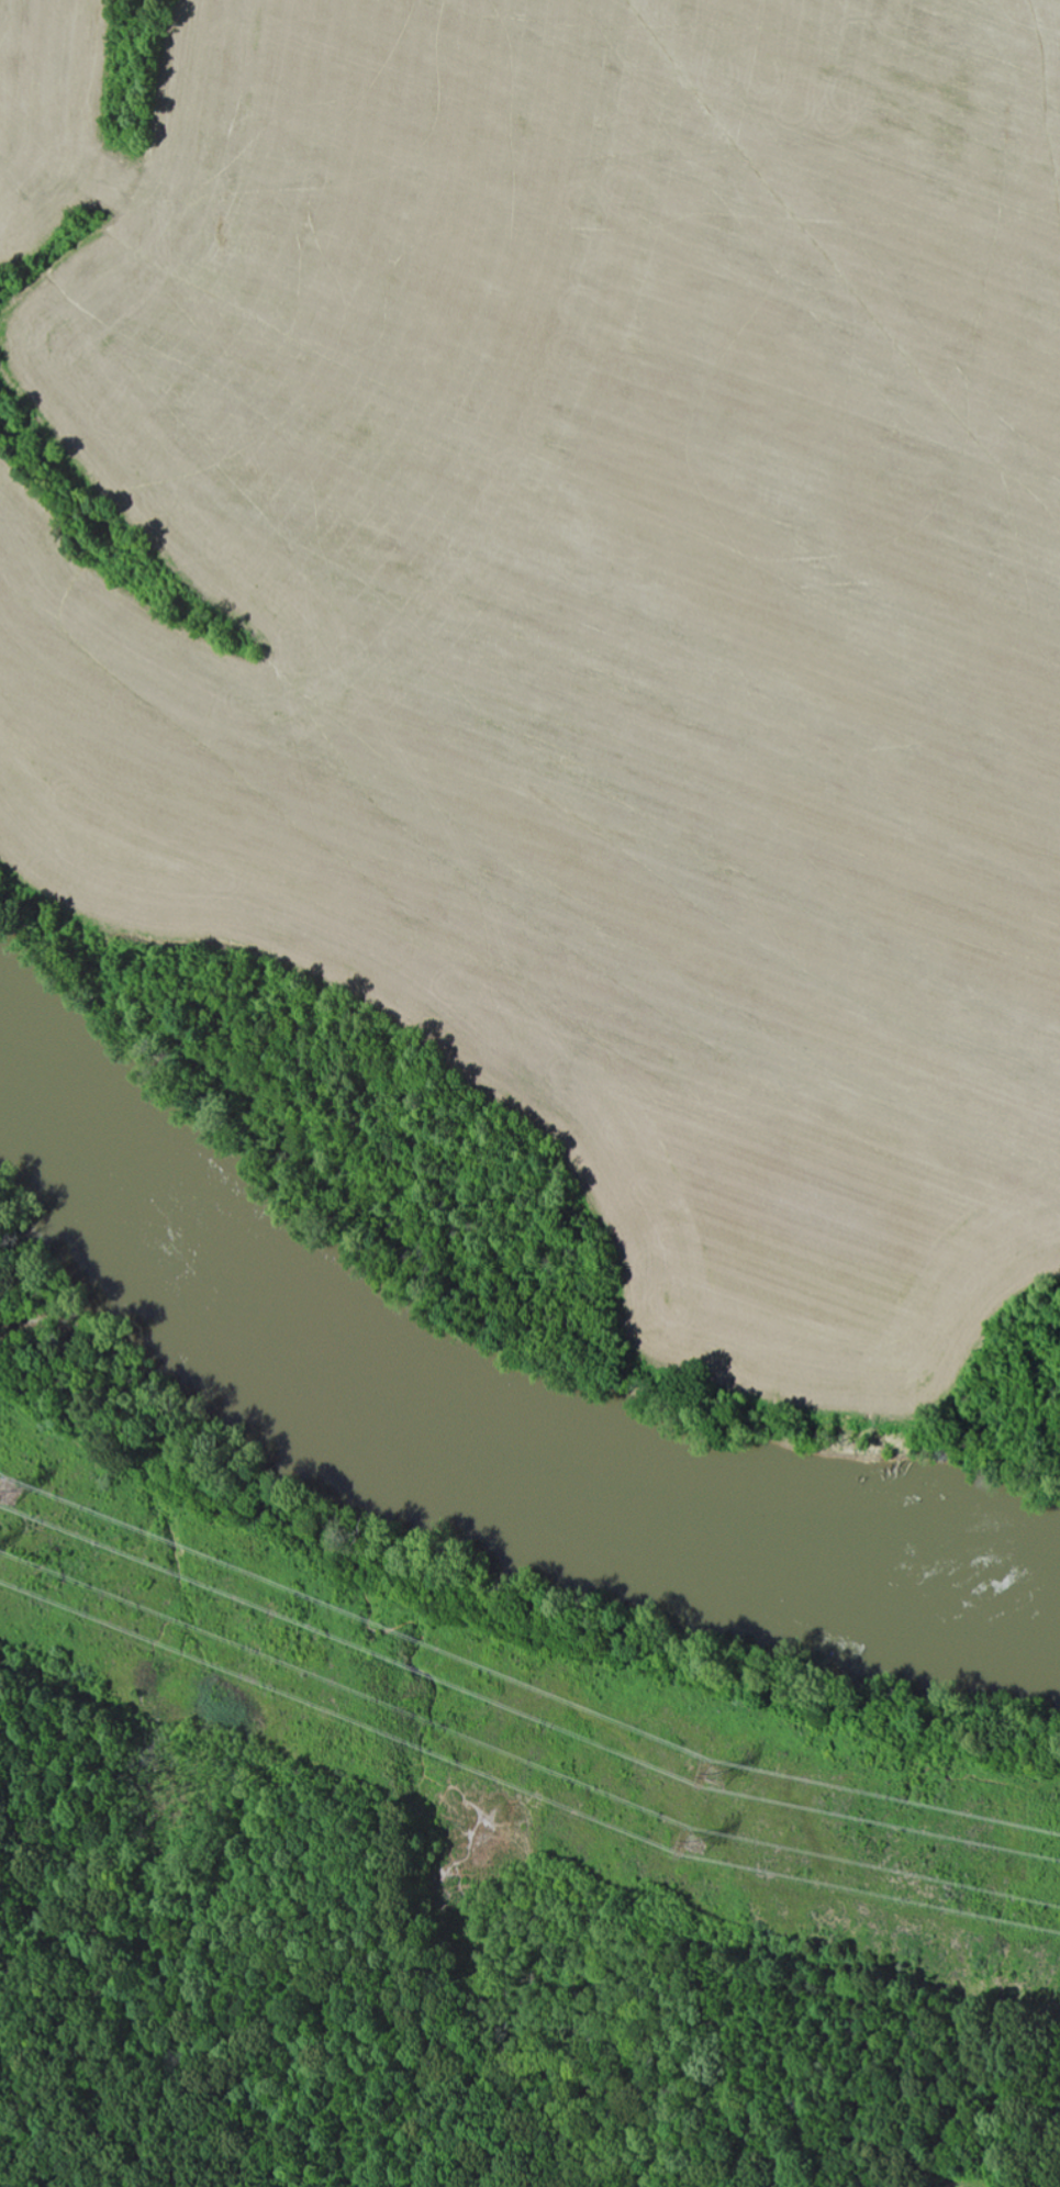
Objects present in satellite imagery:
river: (475, 1448)
power tower: (4, 1492)
power tower: (718, 1773)
power tower: (696, 1844)

